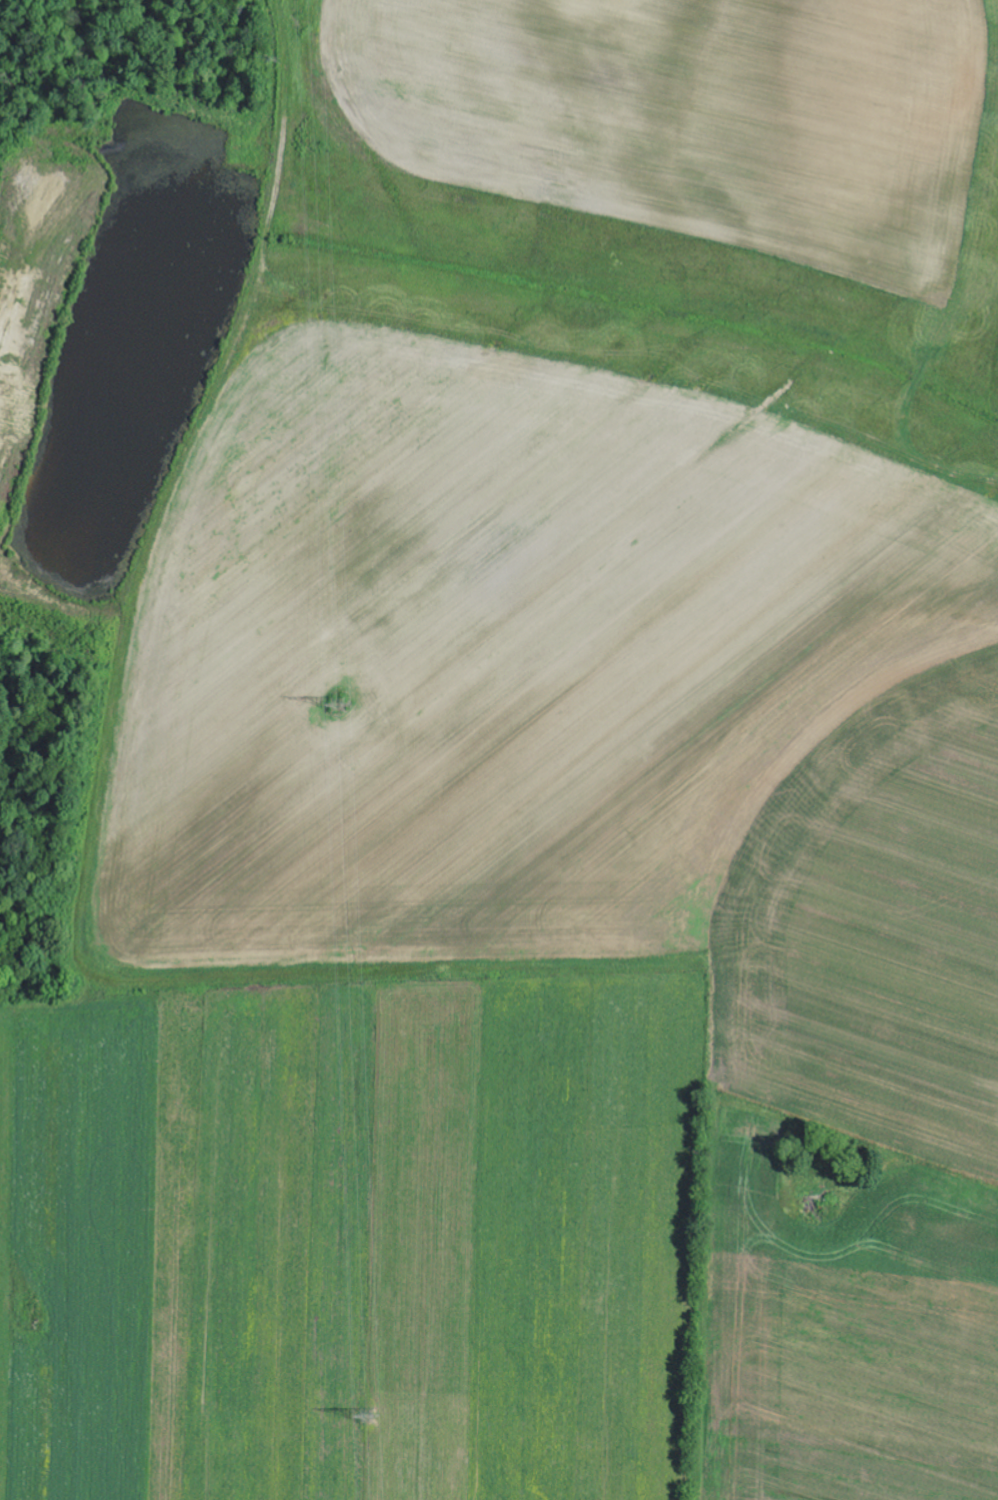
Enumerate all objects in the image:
power tower: (341, 706)
power tower: (368, 1418)

